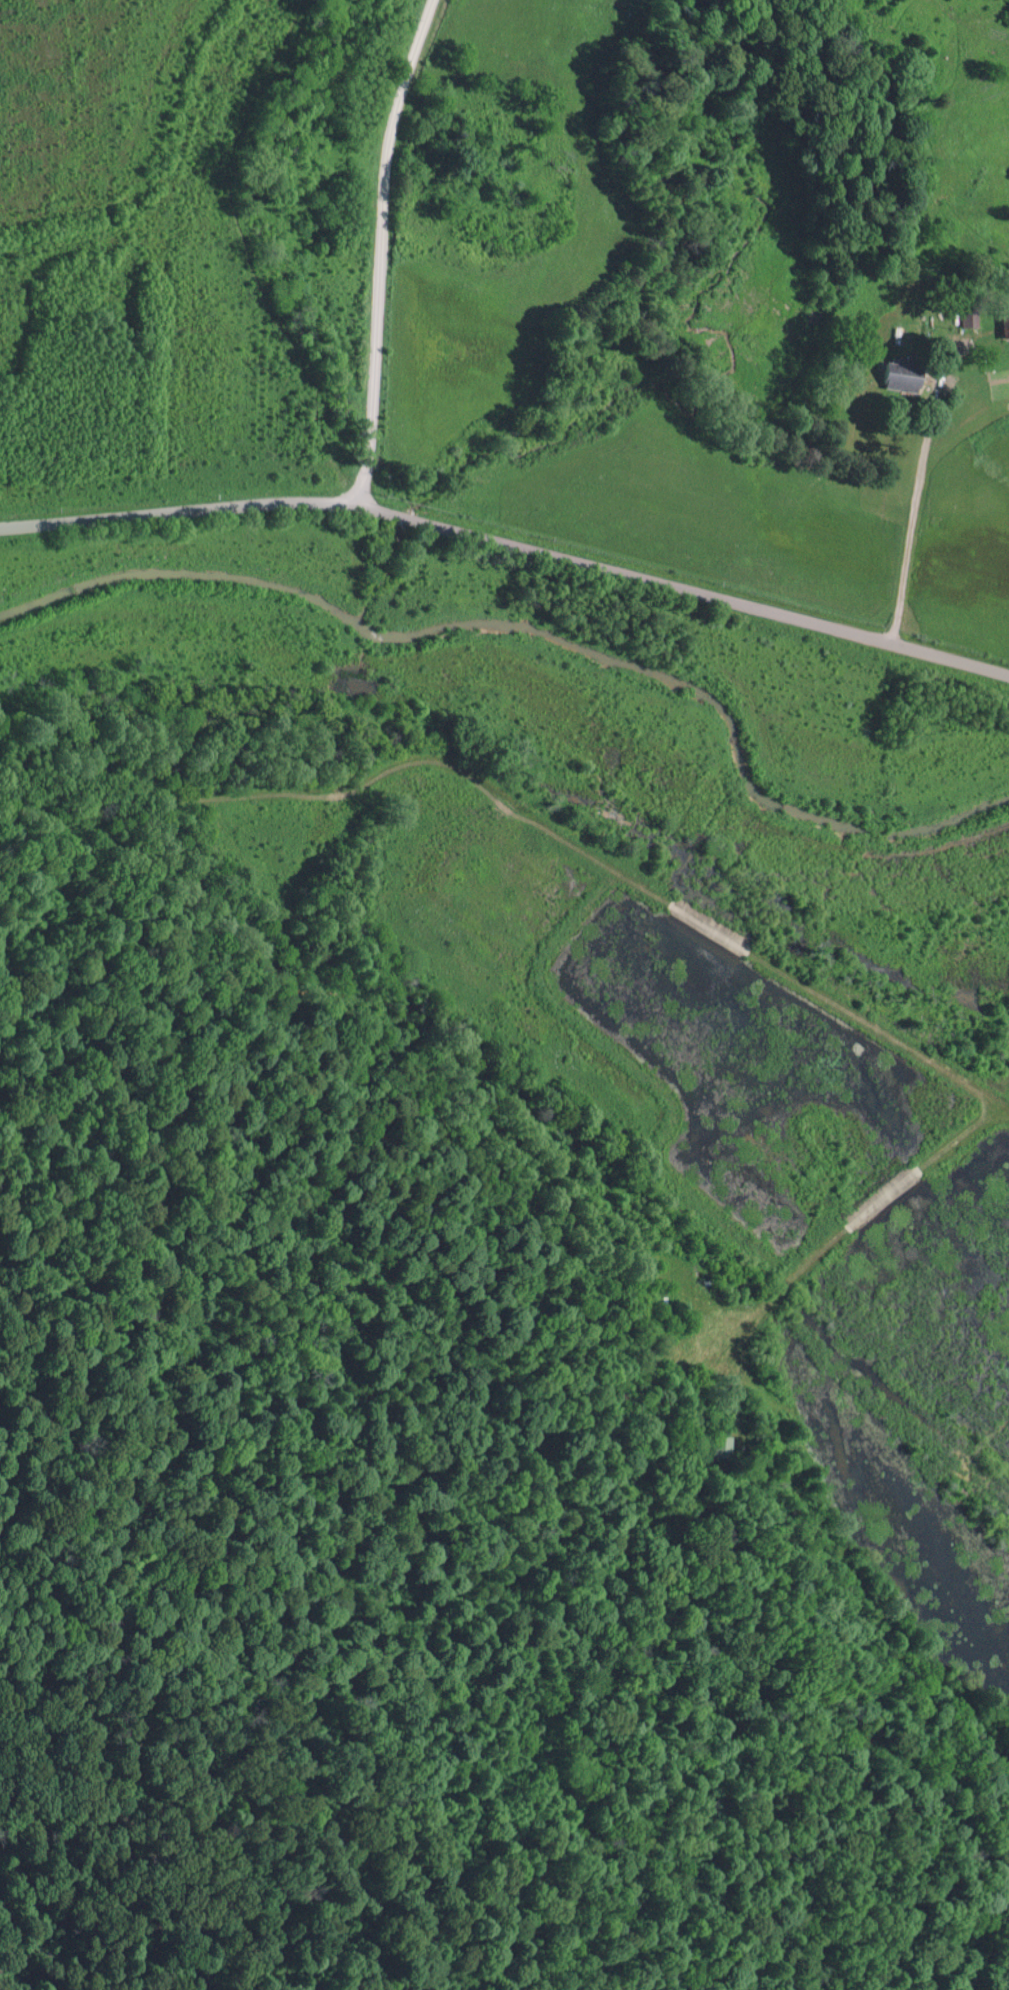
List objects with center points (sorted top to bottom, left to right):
road: (379, 249)
building: (896, 379)
road: (509, 541)
building: (719, 1447)

